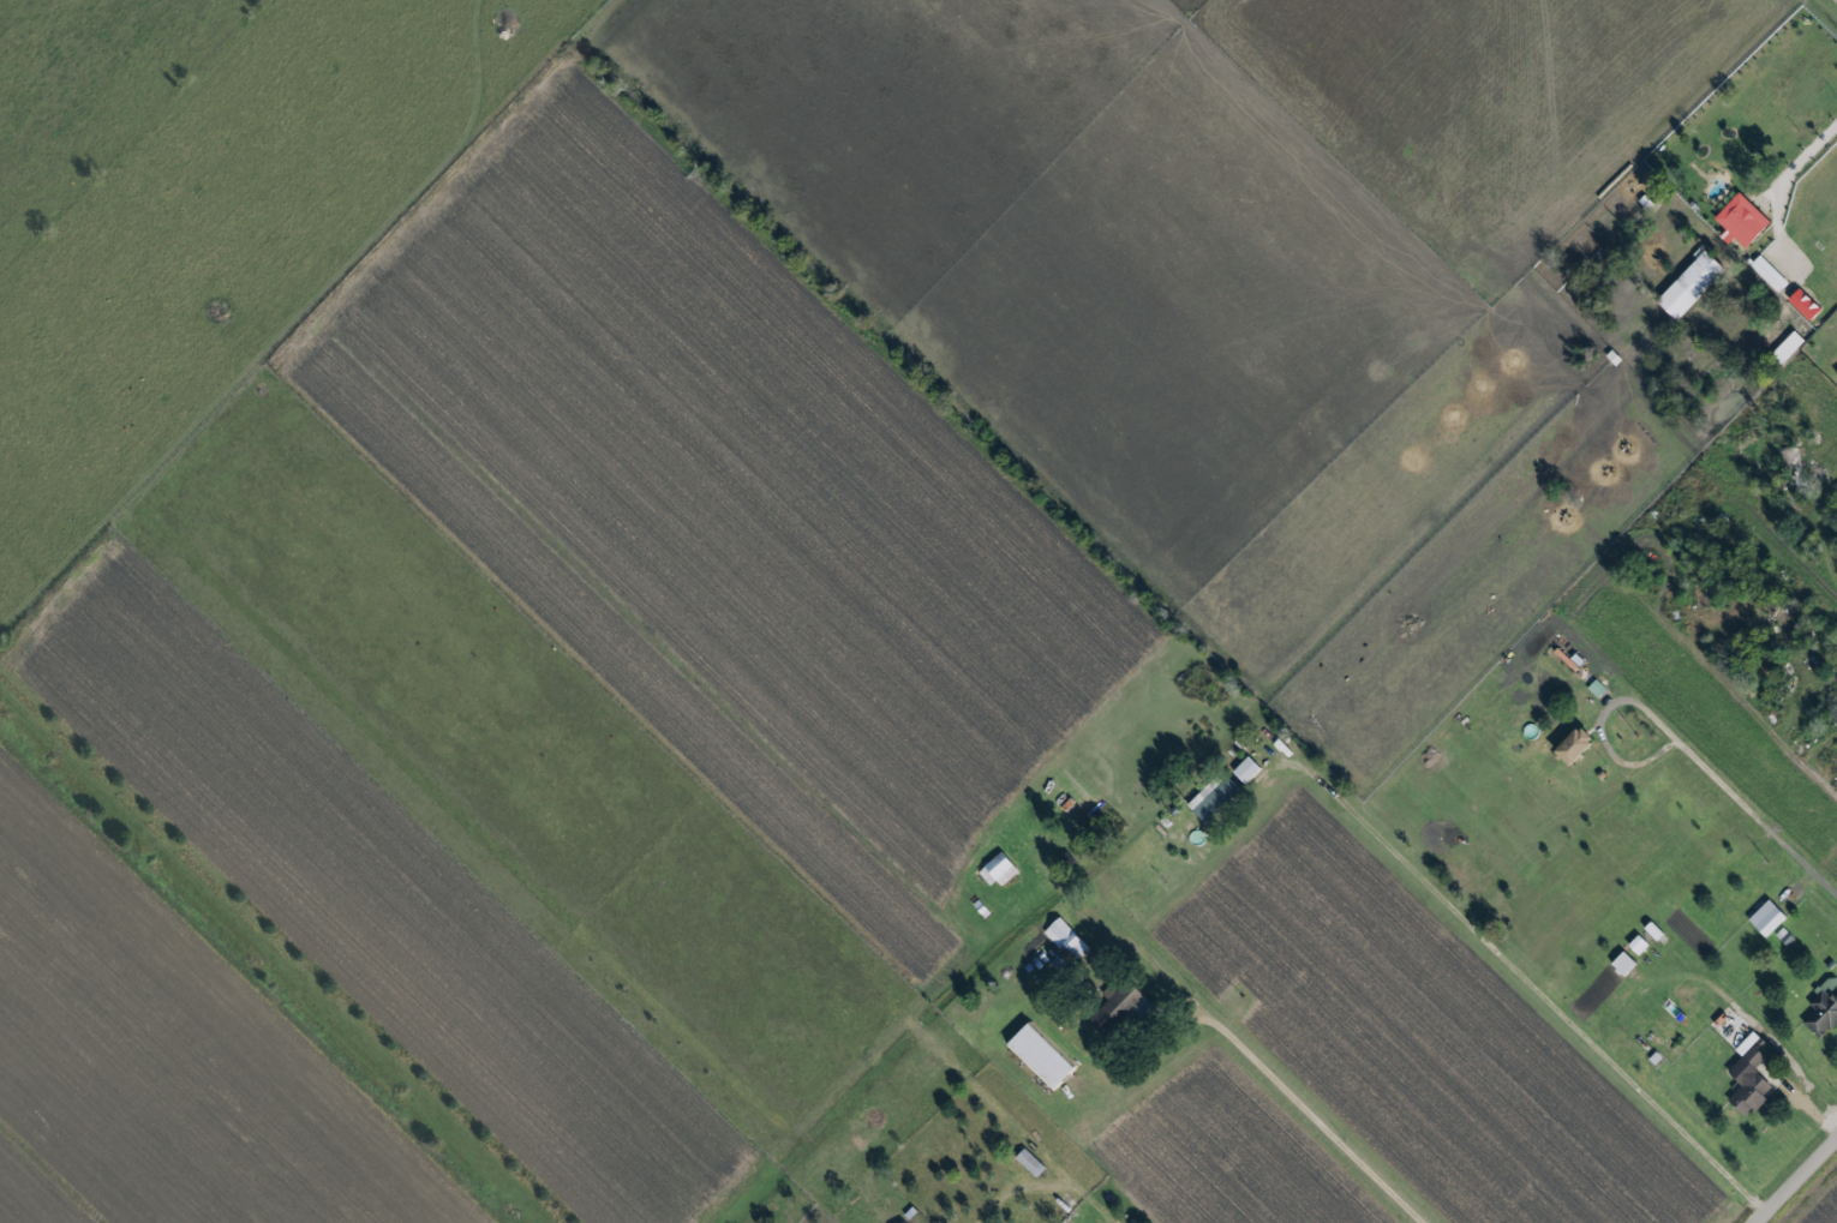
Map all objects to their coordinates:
road: (1802, 155)
building: (1743, 221)
building: (1771, 274)
building: (1693, 283)
building: (1807, 304)
building: (1597, 688)
road: (1596, 731)
building: (1579, 744)
building: (1249, 769)
building: (1215, 798)
road: (1755, 820)
building: (998, 869)
building: (1769, 918)
building: (1066, 937)
building: (1639, 943)
building: (1626, 963)
road: (1530, 987)
building: (1123, 1007)
building: (1824, 1009)
building: (1042, 1057)
building: (1751, 1077)
road: (1308, 1119)
building: (1031, 1162)
road: (1796, 1180)
building: (906, 1222)

